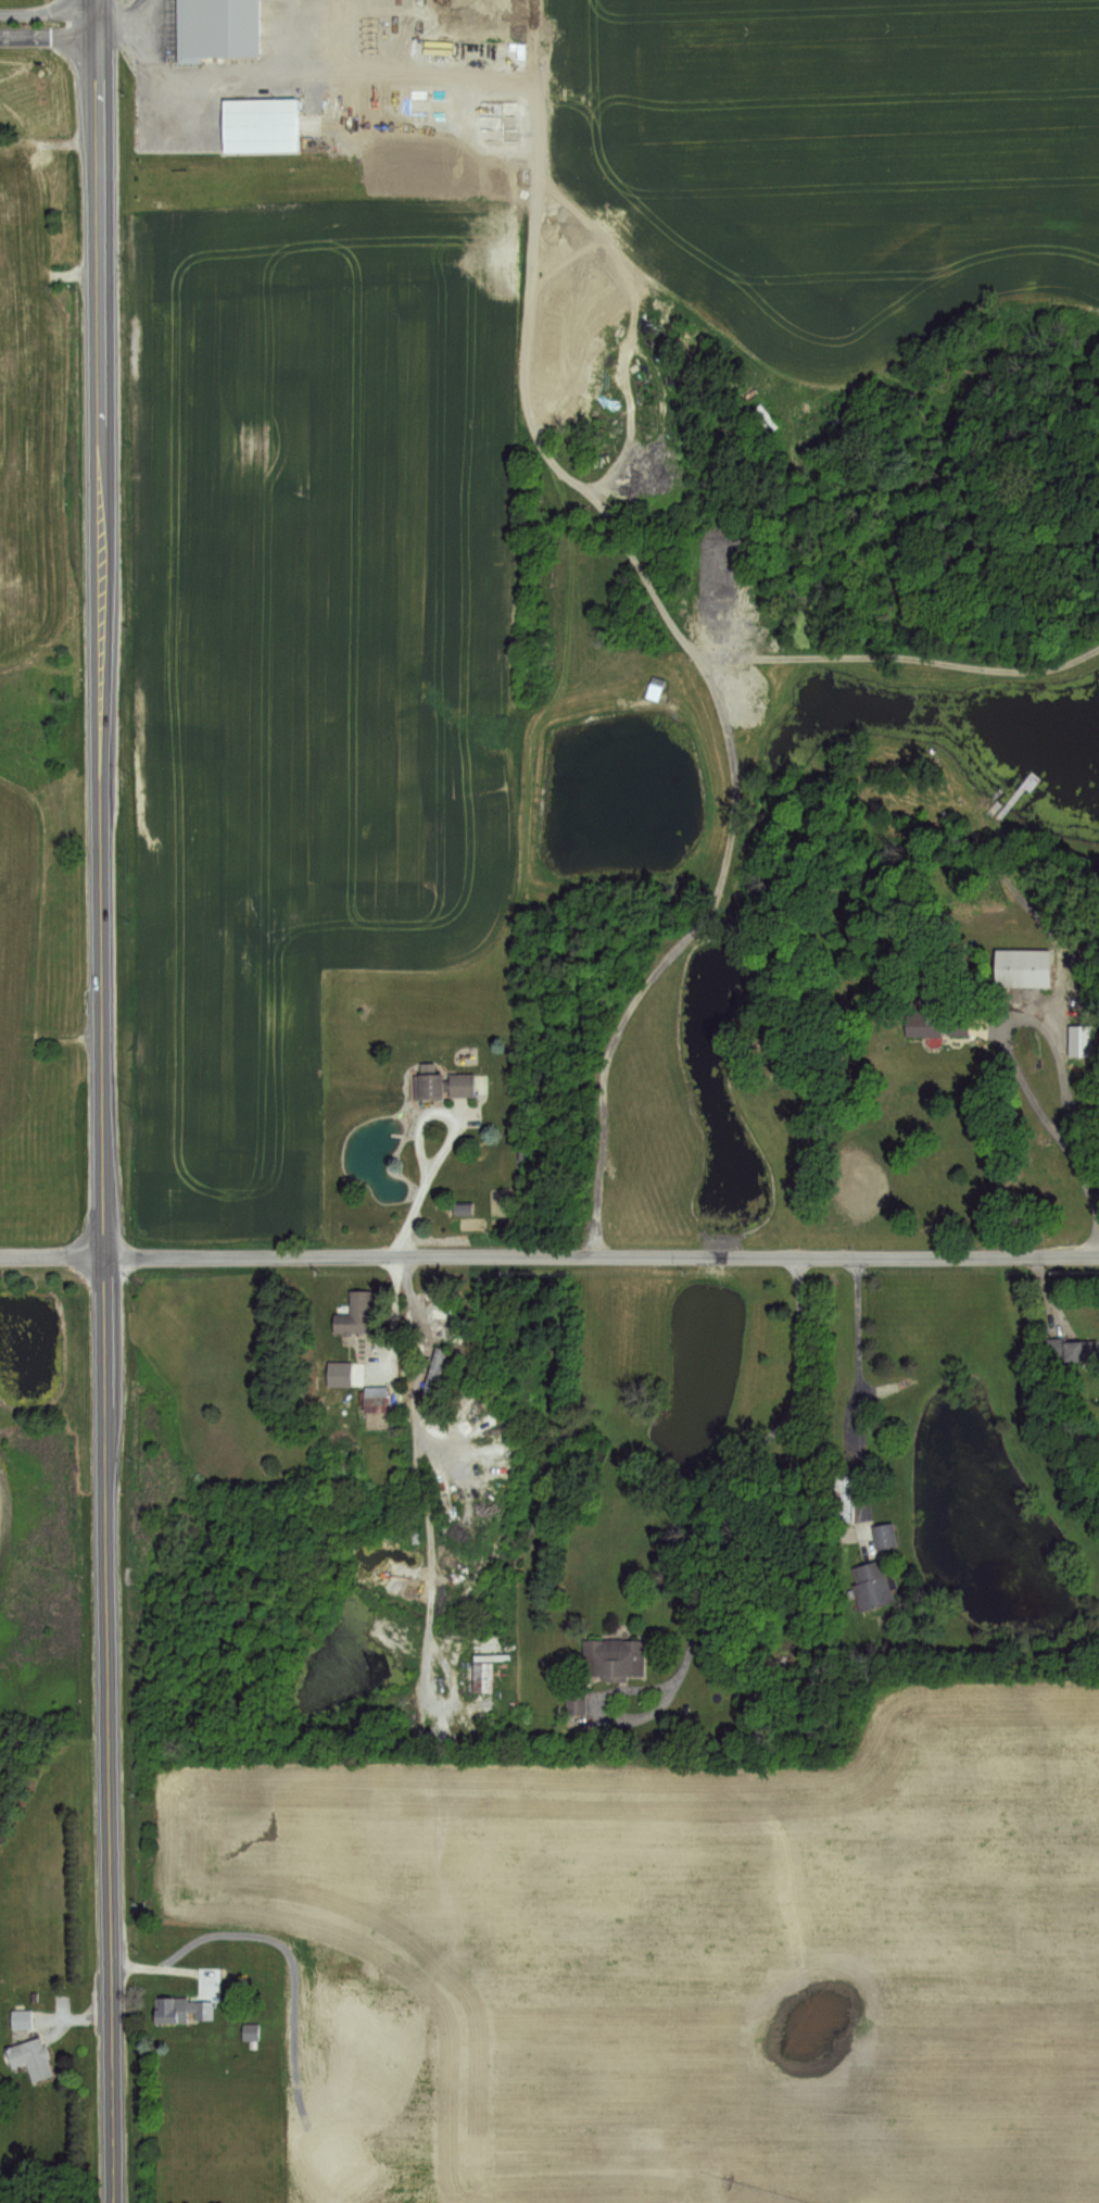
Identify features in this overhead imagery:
road: (47, 10)
building: (216, 29)
road: (46, 34)
building: (258, 125)
crop: (826, 158)
building: (836, 420)
road: (576, 486)
crop: (305, 663)
building: (650, 688)
building: (1023, 969)
building: (934, 1017)
building: (1079, 1042)
building: (443, 1085)
road: (100, 1101)
road: (1075, 1152)
road: (412, 1191)
road: (549, 1256)
building: (355, 1314)
building: (1075, 1350)
building: (432, 1373)
road: (858, 1380)
building: (370, 1397)
road: (724, 1468)
road: (420, 1476)
building: (844, 1498)
building: (885, 1534)
building: (873, 1585)
building: (615, 1657)
building: (481, 1677)
building: (577, 1699)
crop: (682, 1961)
building: (182, 2011)
building: (21, 2018)
building: (251, 2031)
building: (30, 2058)

